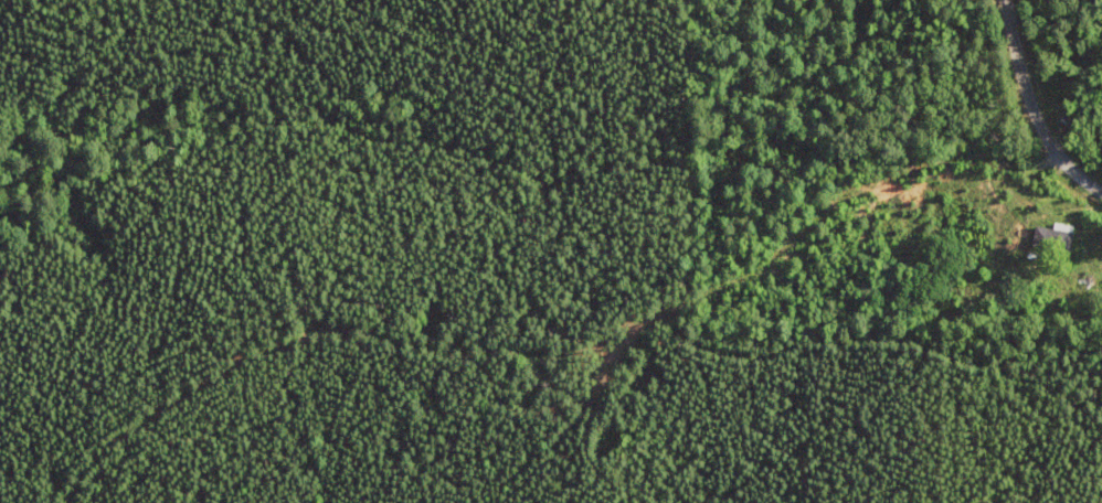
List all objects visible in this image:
road: (1060, 85)
building: (1055, 236)

